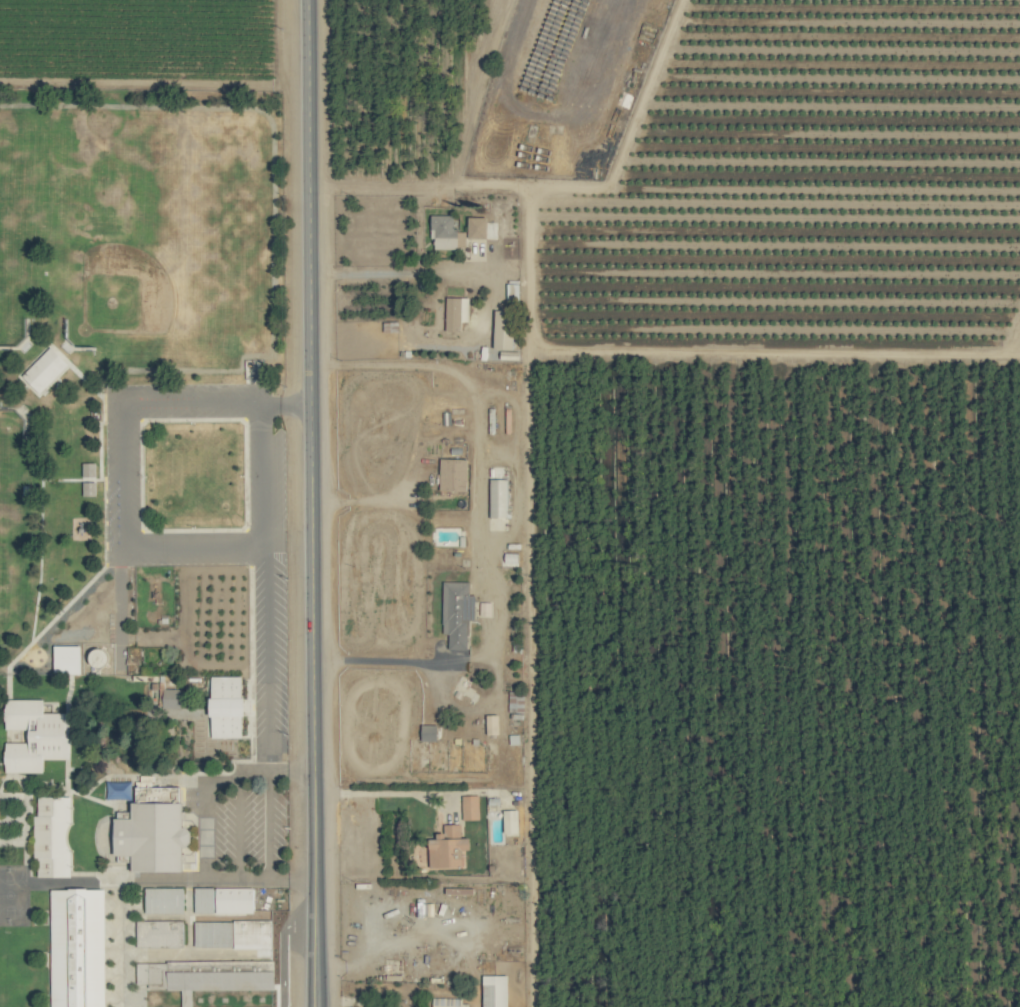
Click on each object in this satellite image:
road: (444, 184)
building: (478, 227)
building: (446, 233)
road: (391, 272)
building: (453, 314)
building: (504, 329)
building: (44, 370)
building: (89, 470)
building: (453, 474)
road: (121, 475)
road: (406, 479)
building: (498, 498)
road: (311, 503)
crop: (510, 503)
road: (480, 525)
building: (509, 558)
building: (457, 612)
road: (263, 639)
building: (171, 697)
building: (515, 701)
building: (226, 706)
building: (491, 723)
building: (429, 731)
building: (35, 735)
road: (290, 769)
road: (390, 792)
building: (470, 806)
building: (510, 821)
road: (205, 827)
building: (52, 835)
building: (153, 835)
building: (445, 852)
building: (164, 899)
building: (223, 899)
building: (163, 932)
building: (233, 933)
building: (75, 941)
building: (186, 979)
building: (495, 990)
building: (447, 1002)
building: (255, 1006)

